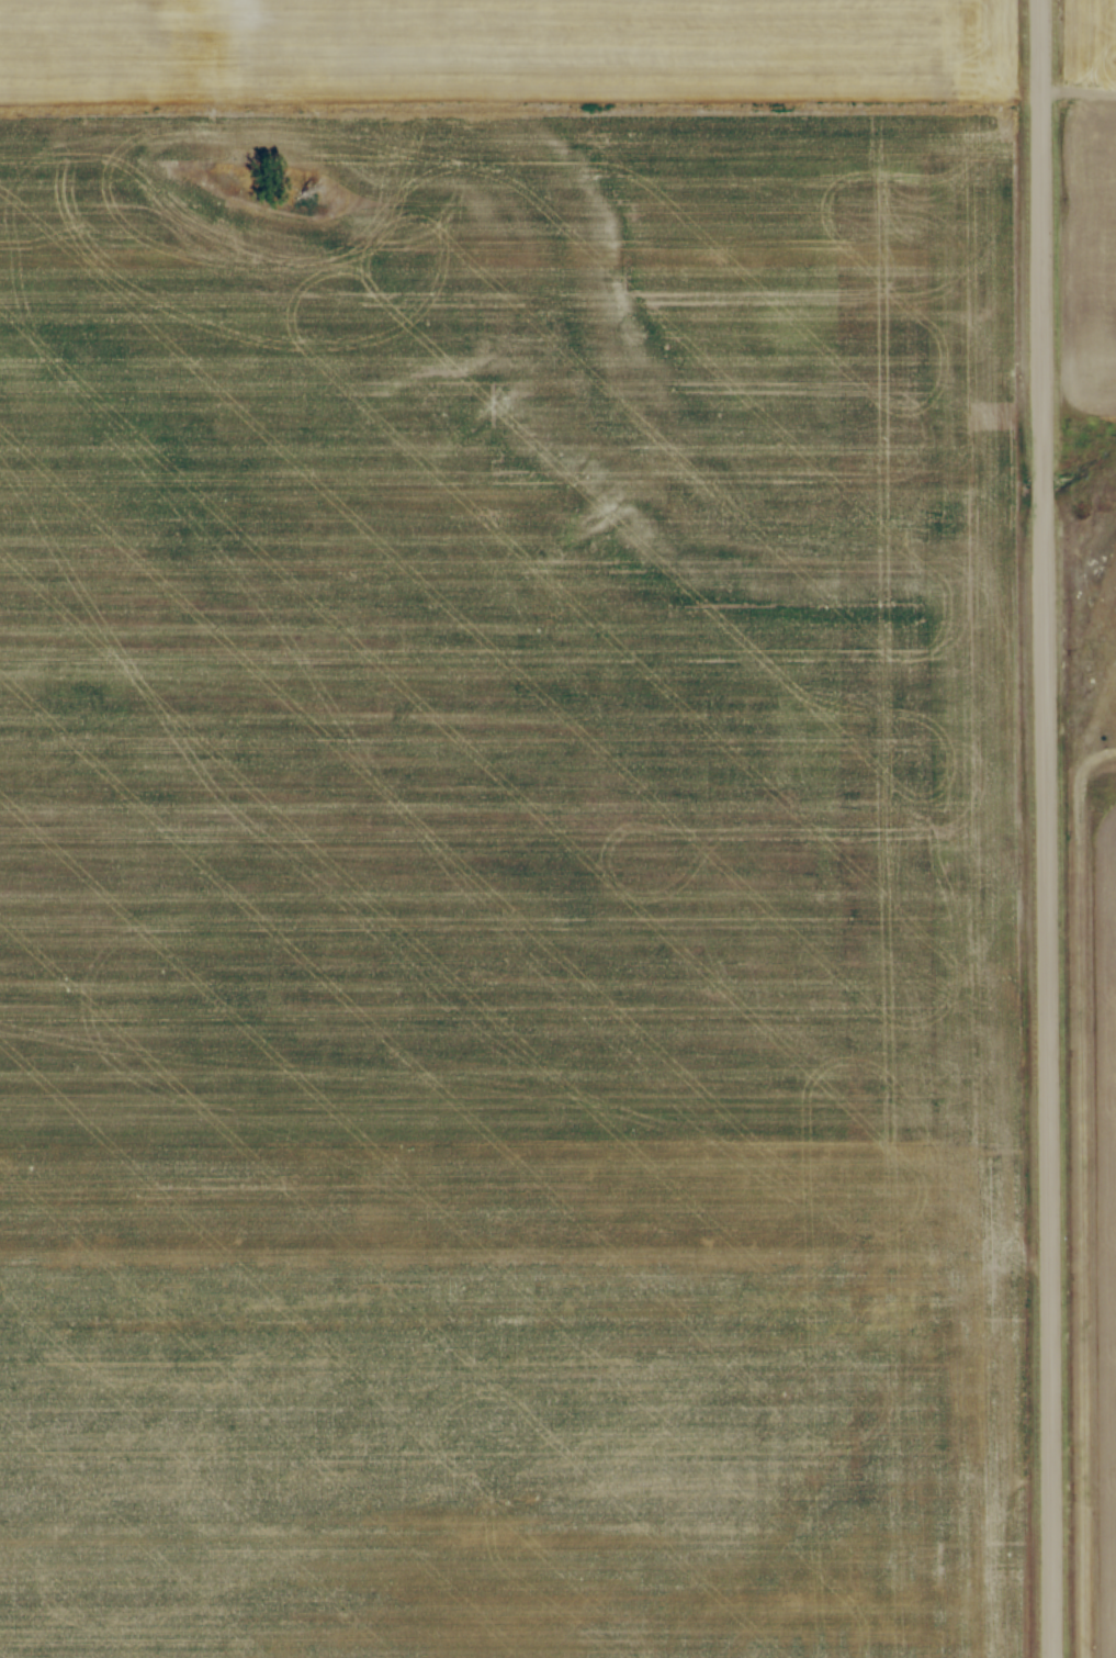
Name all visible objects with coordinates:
crop: (1087, 203)
road: (1042, 829)
crop: (507, 830)
crop: (1093, 1221)

